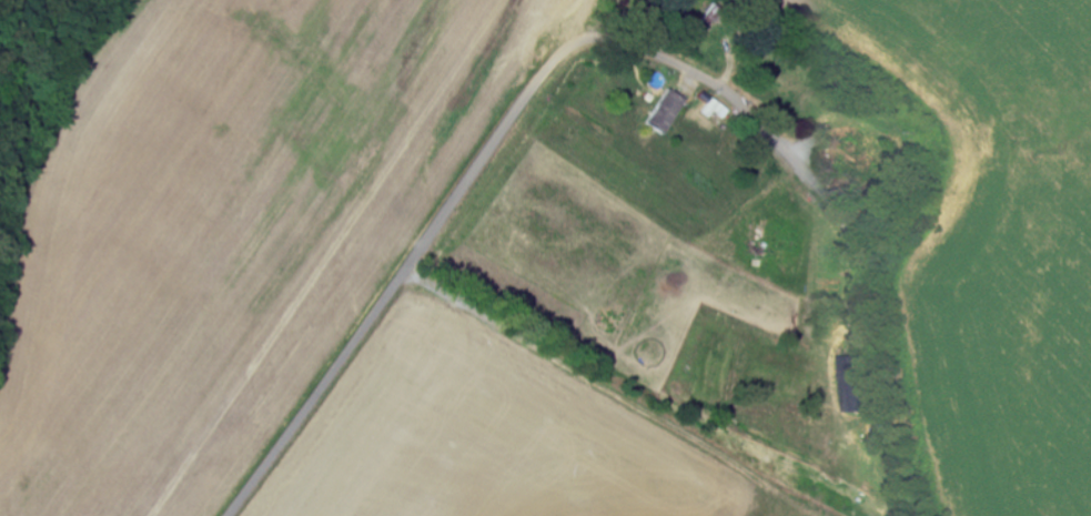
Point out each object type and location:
building: (665, 112)
road: (477, 171)
building: (855, 385)

